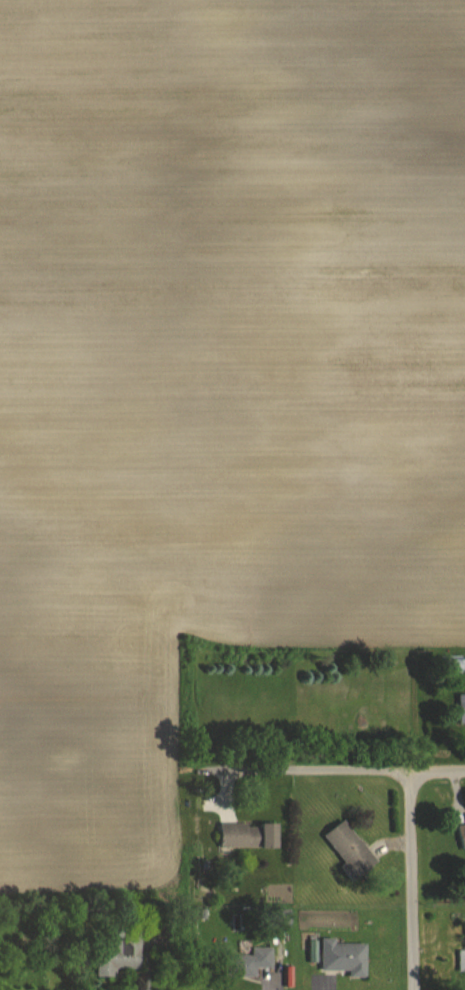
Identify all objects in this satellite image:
building: (461, 709)
road: (361, 768)
building: (250, 835)
building: (463, 835)
building: (350, 849)
road: (411, 880)
building: (118, 953)
building: (344, 957)
building: (462, 961)
building: (255, 962)

